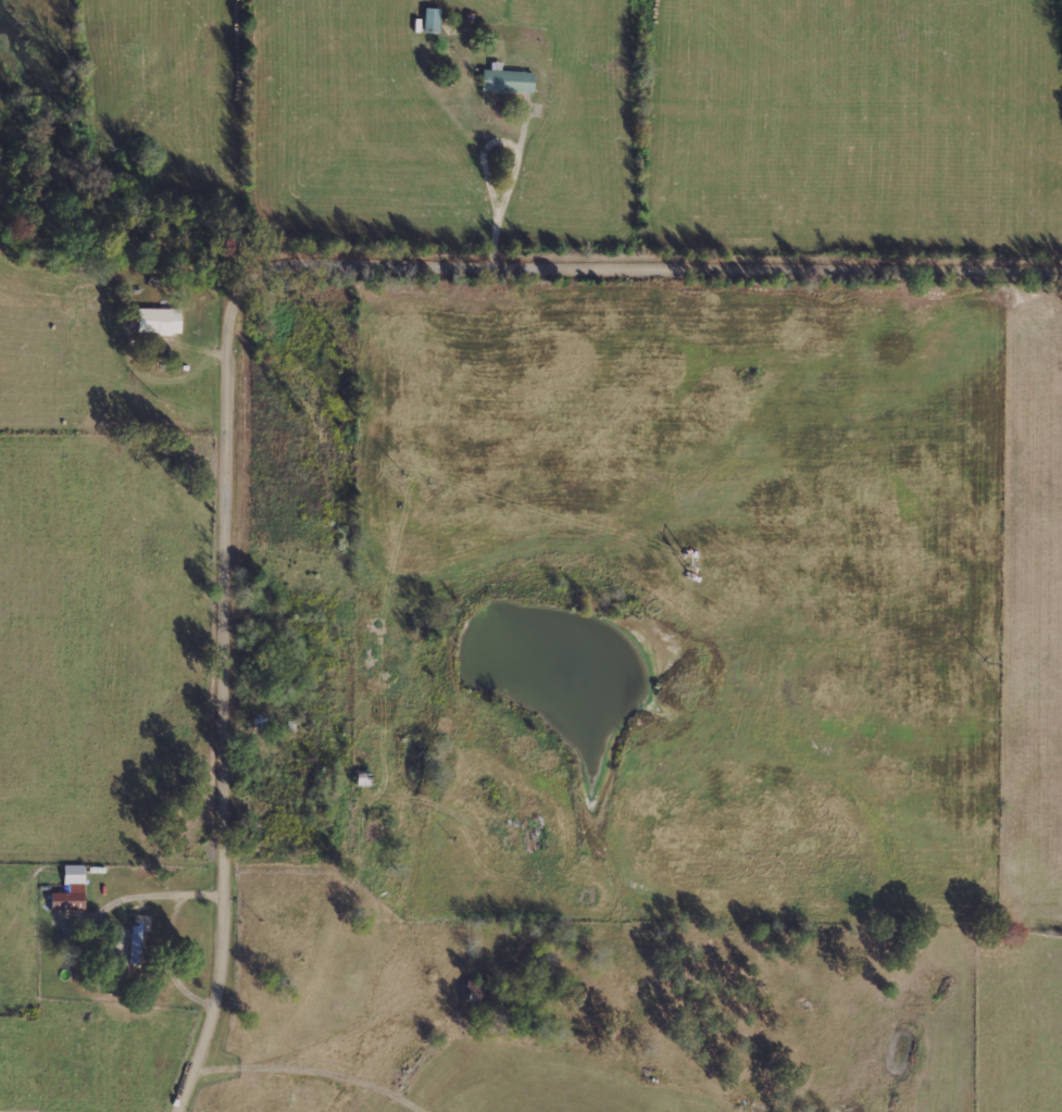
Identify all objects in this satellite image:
building: (432, 20)
building: (508, 80)
road: (246, 295)
building: (160, 322)
road: (349, 391)
road: (442, 415)
road: (370, 512)
building: (72, 891)

